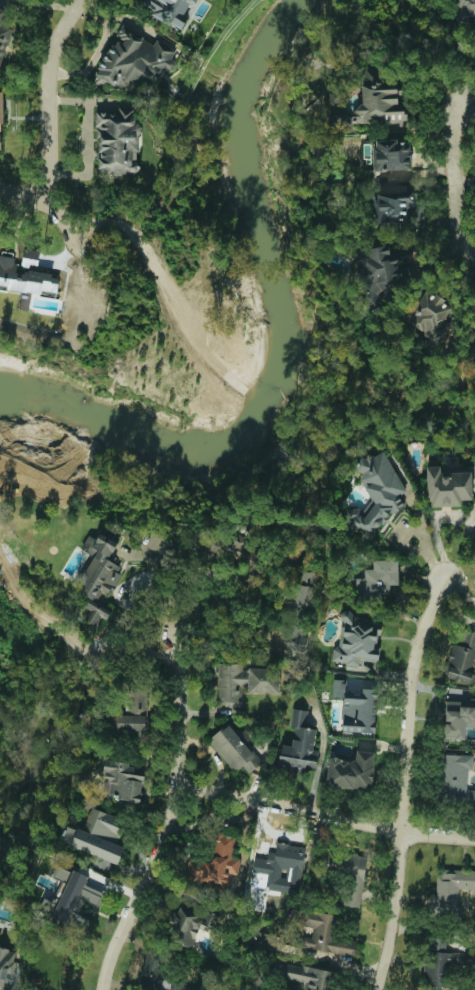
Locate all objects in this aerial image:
building: (168, 10)
building: (465, 10)
road: (100, 49)
building: (133, 60)
road: (53, 96)
building: (379, 100)
building: (1, 115)
road: (89, 137)
building: (117, 141)
building: (391, 155)
road: (453, 178)
road: (46, 201)
building: (392, 208)
road: (464, 209)
building: (25, 273)
building: (427, 312)
river: (275, 341)
building: (471, 341)
building: (449, 486)
building: (376, 493)
road: (437, 530)
building: (234, 544)
building: (97, 575)
building: (377, 581)
building: (297, 611)
building: (356, 639)
building: (462, 658)
building: (244, 680)
building: (356, 705)
building: (131, 712)
building: (458, 717)
building: (298, 746)
building: (232, 749)
building: (351, 771)
building: (456, 779)
building: (121, 780)
road: (402, 783)
road: (172, 795)
road: (324, 815)
building: (97, 835)
building: (216, 864)
building: (279, 869)
building: (348, 874)
building: (450, 891)
building: (68, 893)
building: (191, 925)
building: (312, 936)
building: (6, 961)
building: (441, 962)
building: (158, 975)
building: (303, 976)

